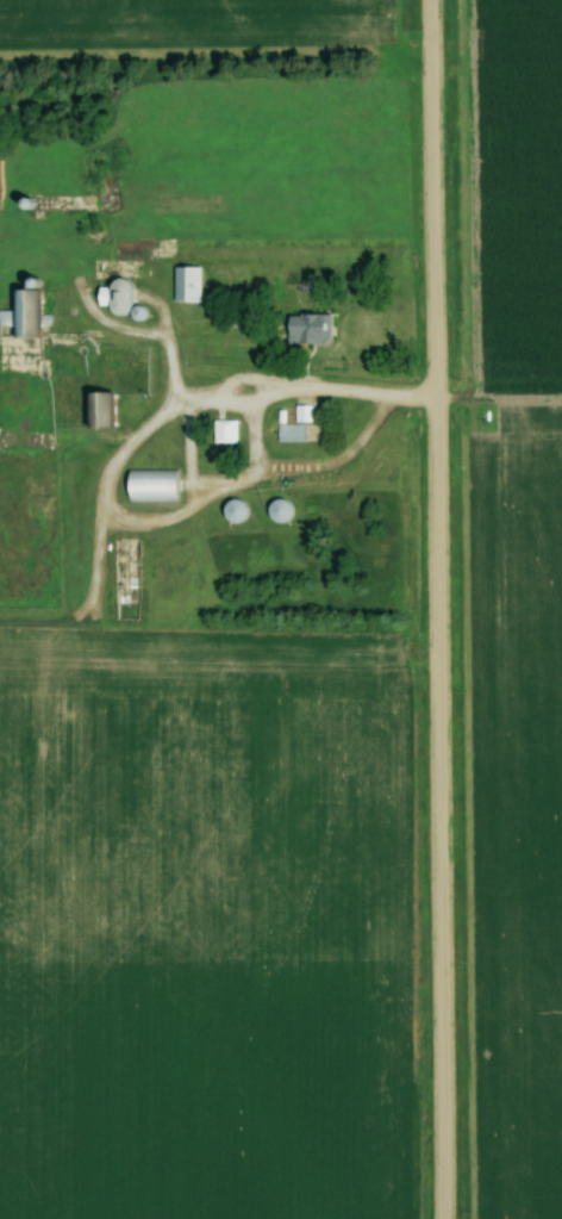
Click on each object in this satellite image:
building: (131, 249)
building: (183, 282)
building: (305, 326)
road: (239, 404)
building: (95, 408)
building: (221, 431)
building: (287, 434)
building: (148, 485)
building: (231, 510)
building: (275, 510)
road: (439, 609)
building: (218, 726)

